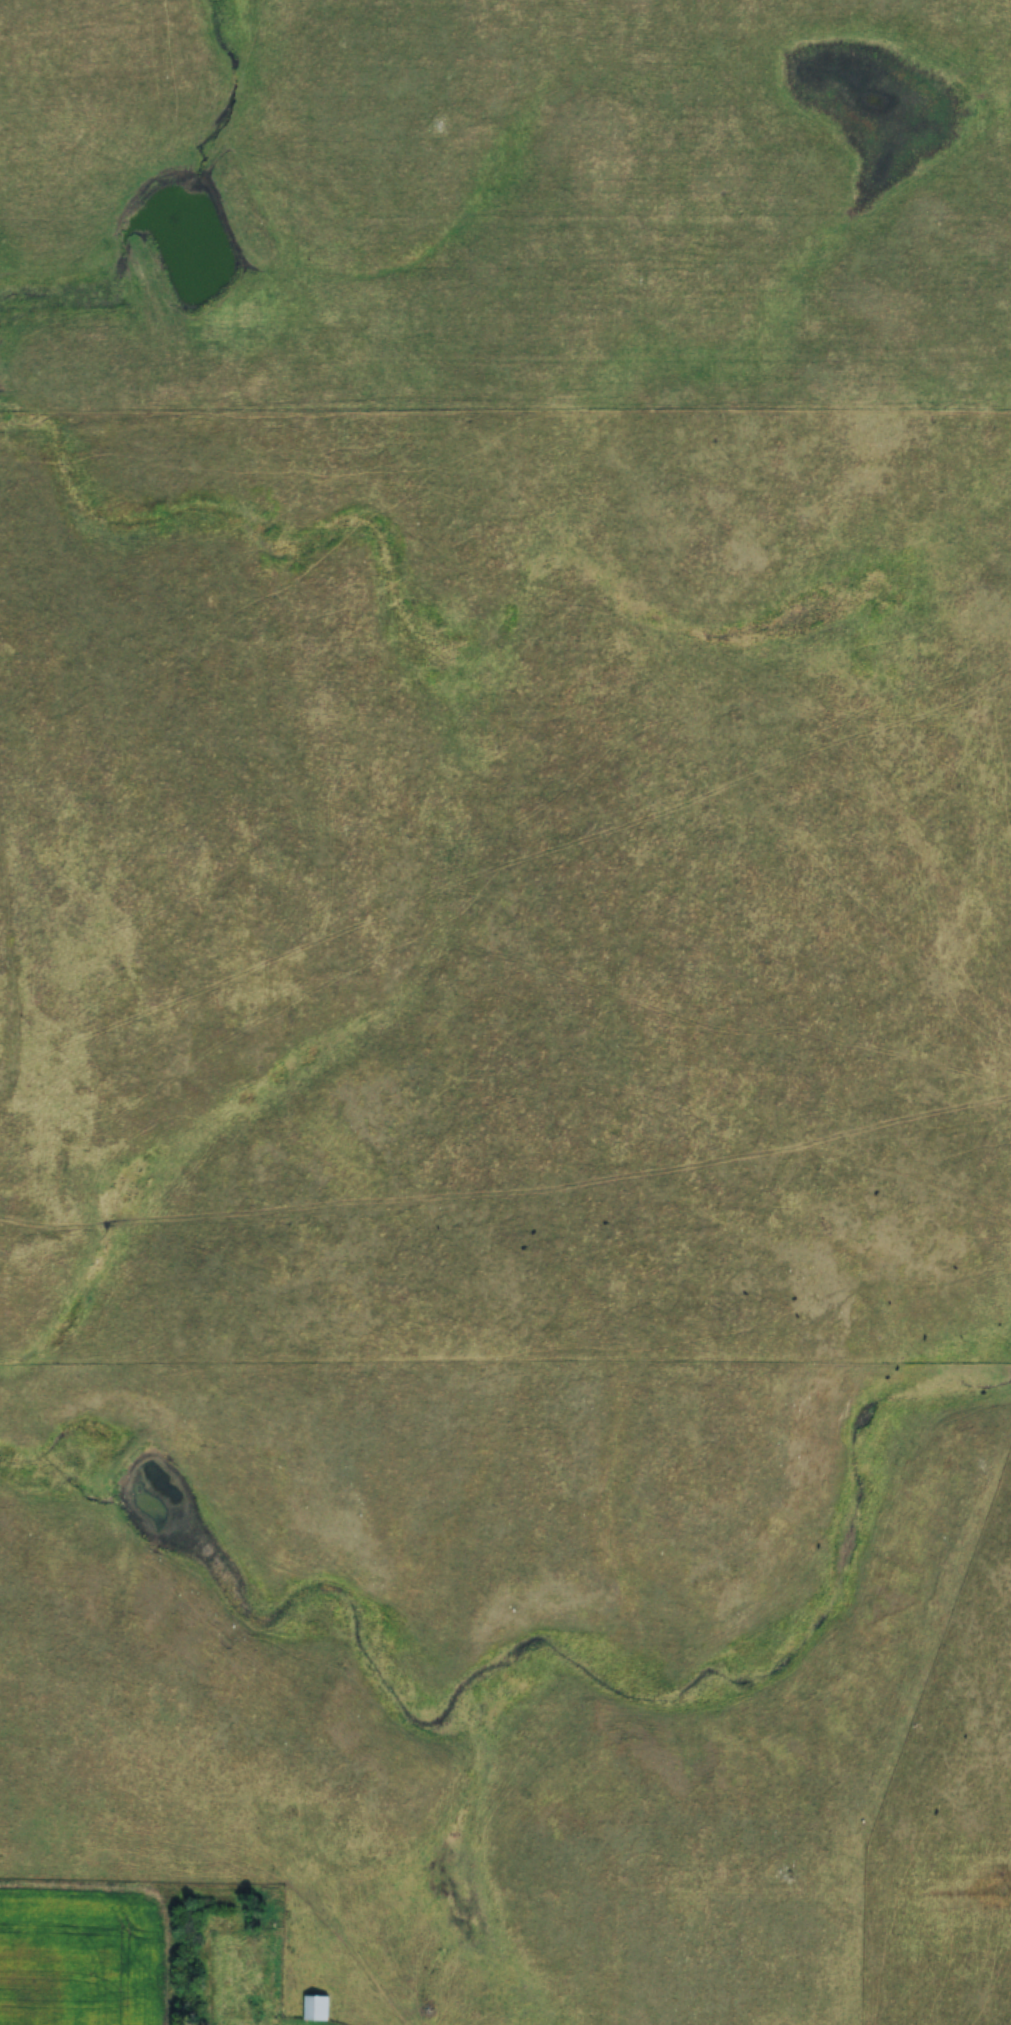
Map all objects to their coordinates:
crop: (77, 1957)
building: (315, 2007)

